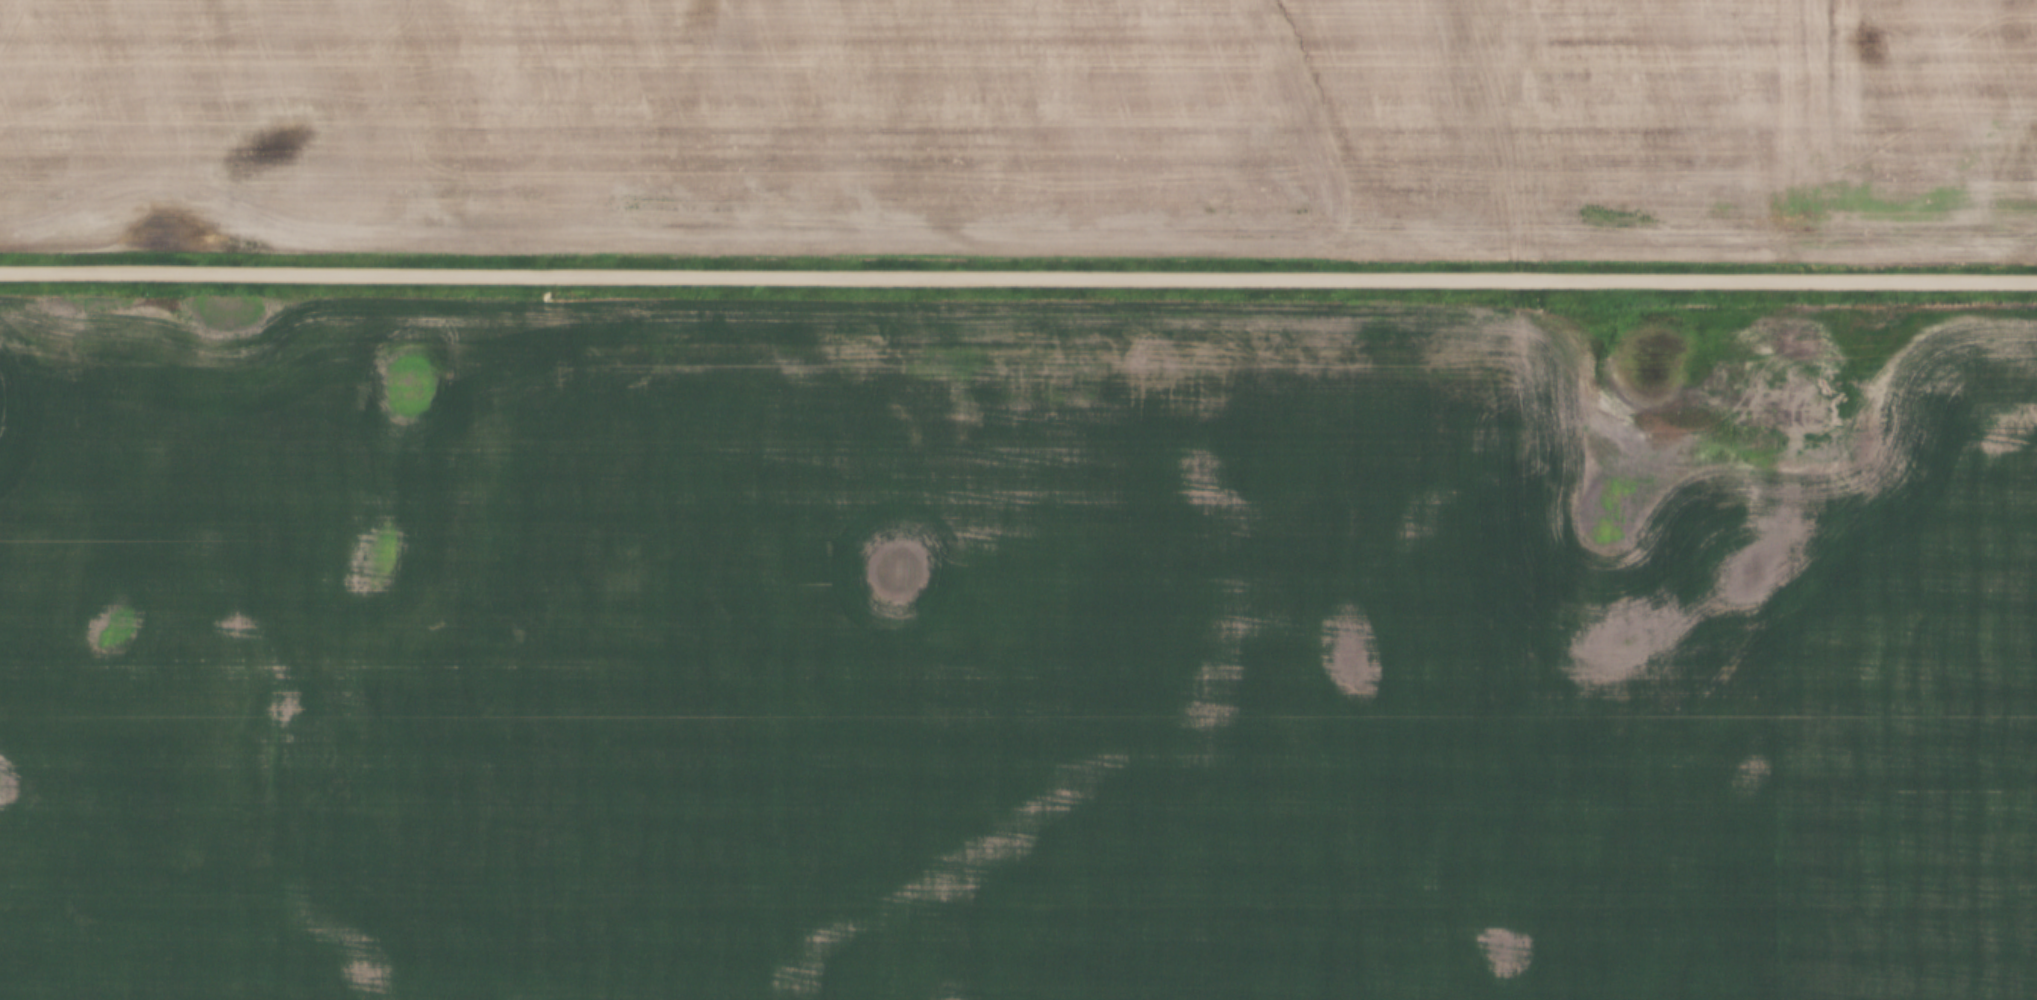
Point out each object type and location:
road: (1018, 280)

